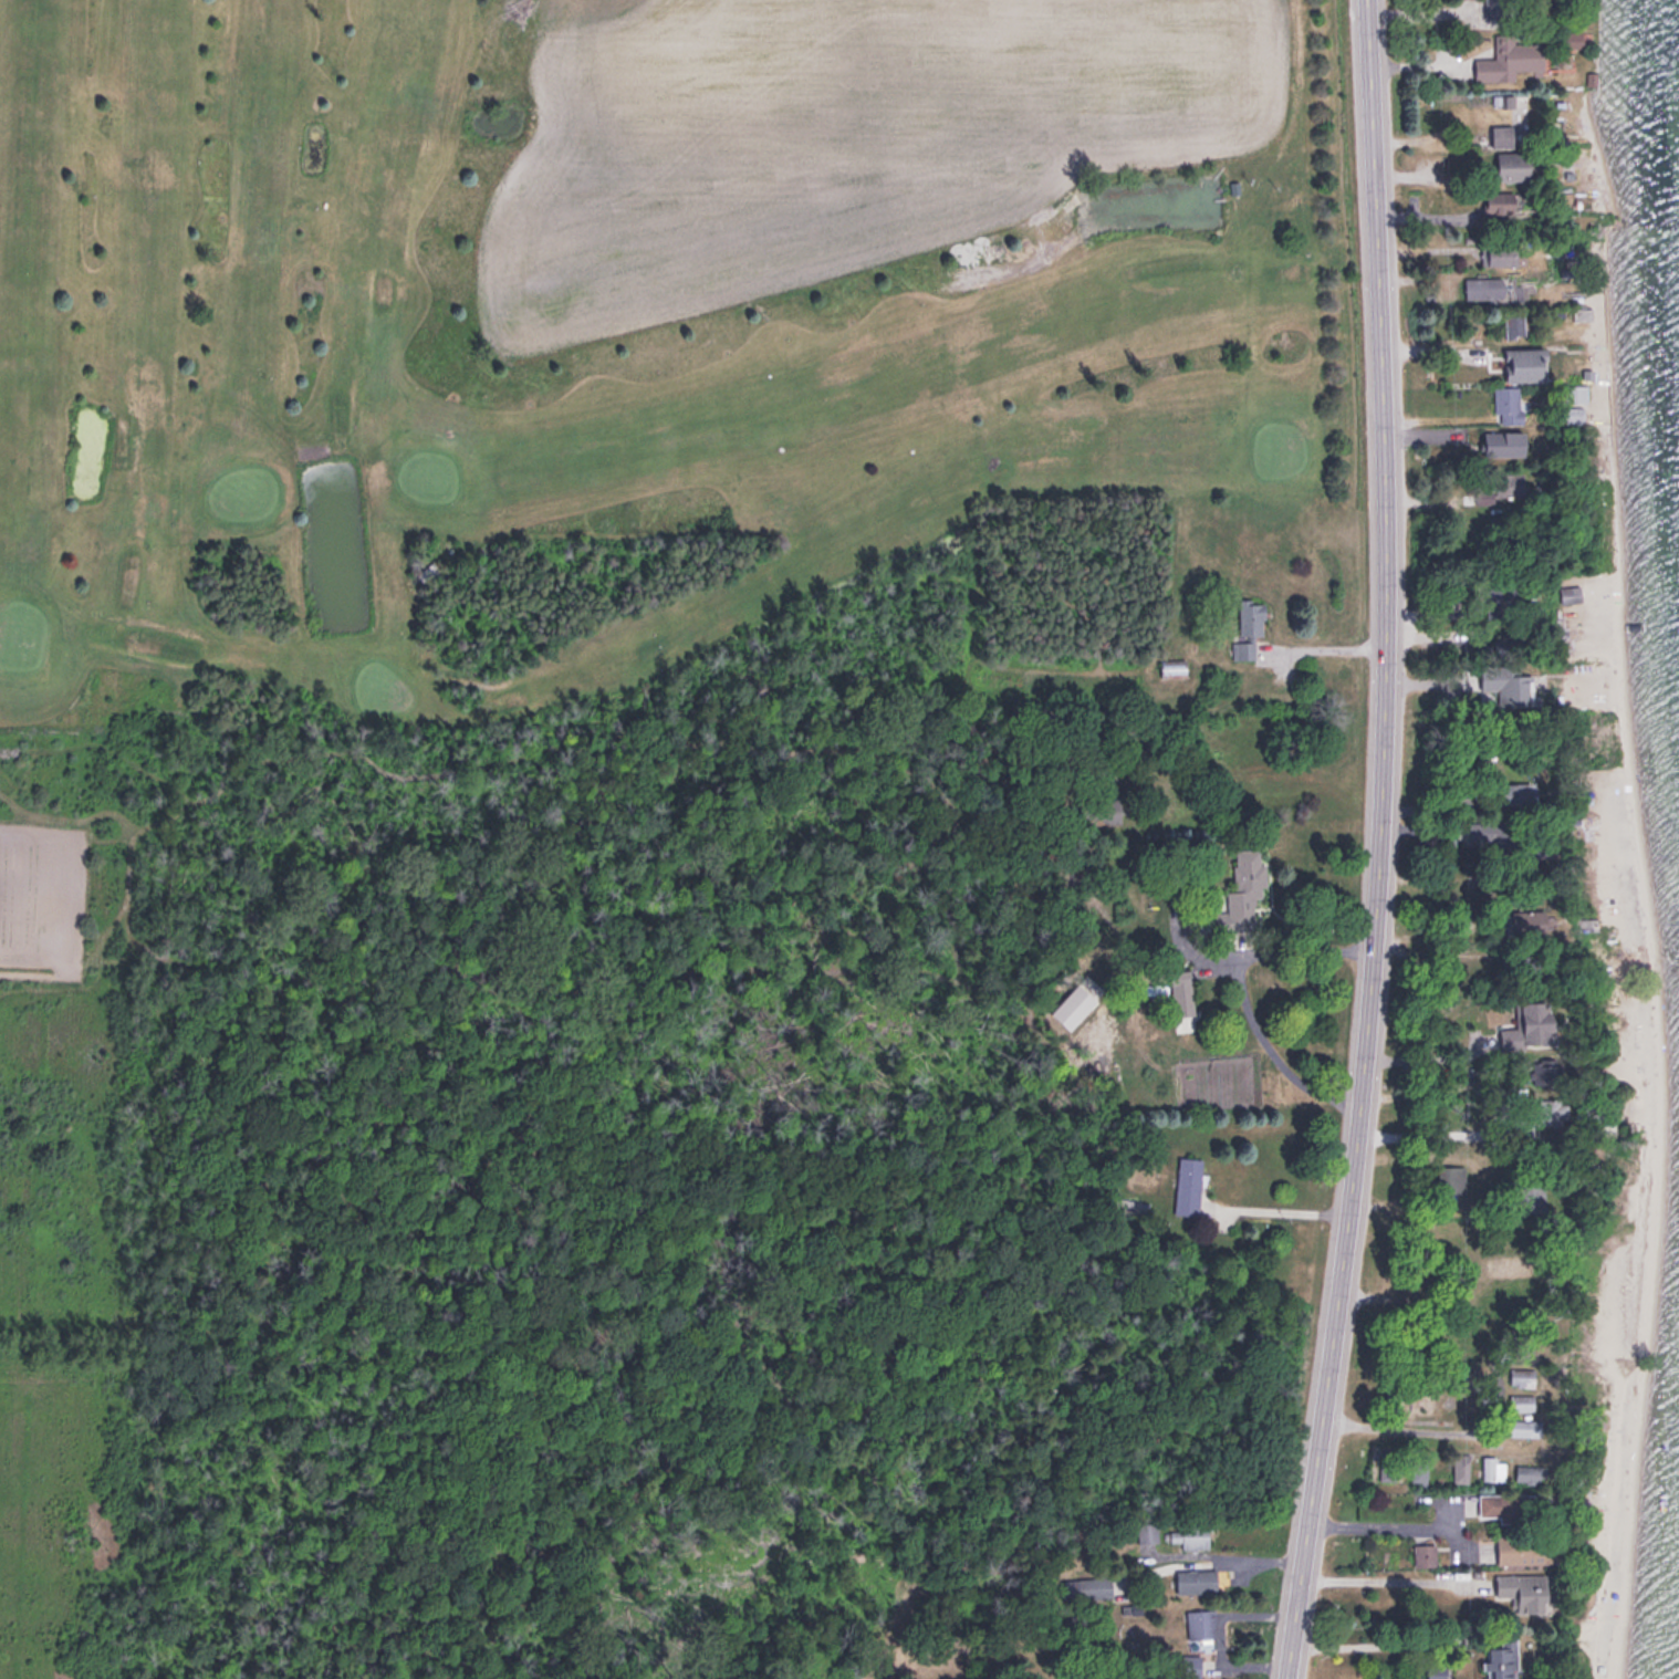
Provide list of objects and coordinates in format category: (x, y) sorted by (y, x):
building: (1498, 7)
building: (1511, 56)
building: (1502, 134)
building: (1514, 164)
building: (1500, 201)
building: (1502, 254)
building: (1488, 288)
building: (1582, 313)
building: (1514, 324)
park: (603, 341)
building: (1508, 403)
building: (1498, 484)
building: (1571, 592)
building: (1496, 594)
building: (1248, 627)
road: (1325, 645)
building: (1172, 665)
building: (1508, 680)
building: (1513, 792)
building: (1108, 810)
building: (1490, 830)
road: (1380, 842)
building: (1245, 886)
building: (1525, 920)
building: (1180, 982)
building: (1530, 1025)
road: (1427, 1055)
road: (1272, 1062)
building: (1188, 1186)
road: (1280, 1209)
building: (1522, 1375)
road: (1487, 1379)
building: (1522, 1400)
building: (1524, 1426)
building: (1387, 1461)
building: (1493, 1467)
building: (1526, 1470)
building: (1503, 1505)
road: (1380, 1524)
building: (1146, 1527)
building: (1188, 1535)
building: (1512, 1548)
building: (1425, 1551)
building: (1197, 1578)
road: (1386, 1579)
building: (1096, 1586)
building: (1524, 1591)
building: (1200, 1627)
road: (1378, 1641)
building: (1503, 1658)
building: (1437, 1671)

